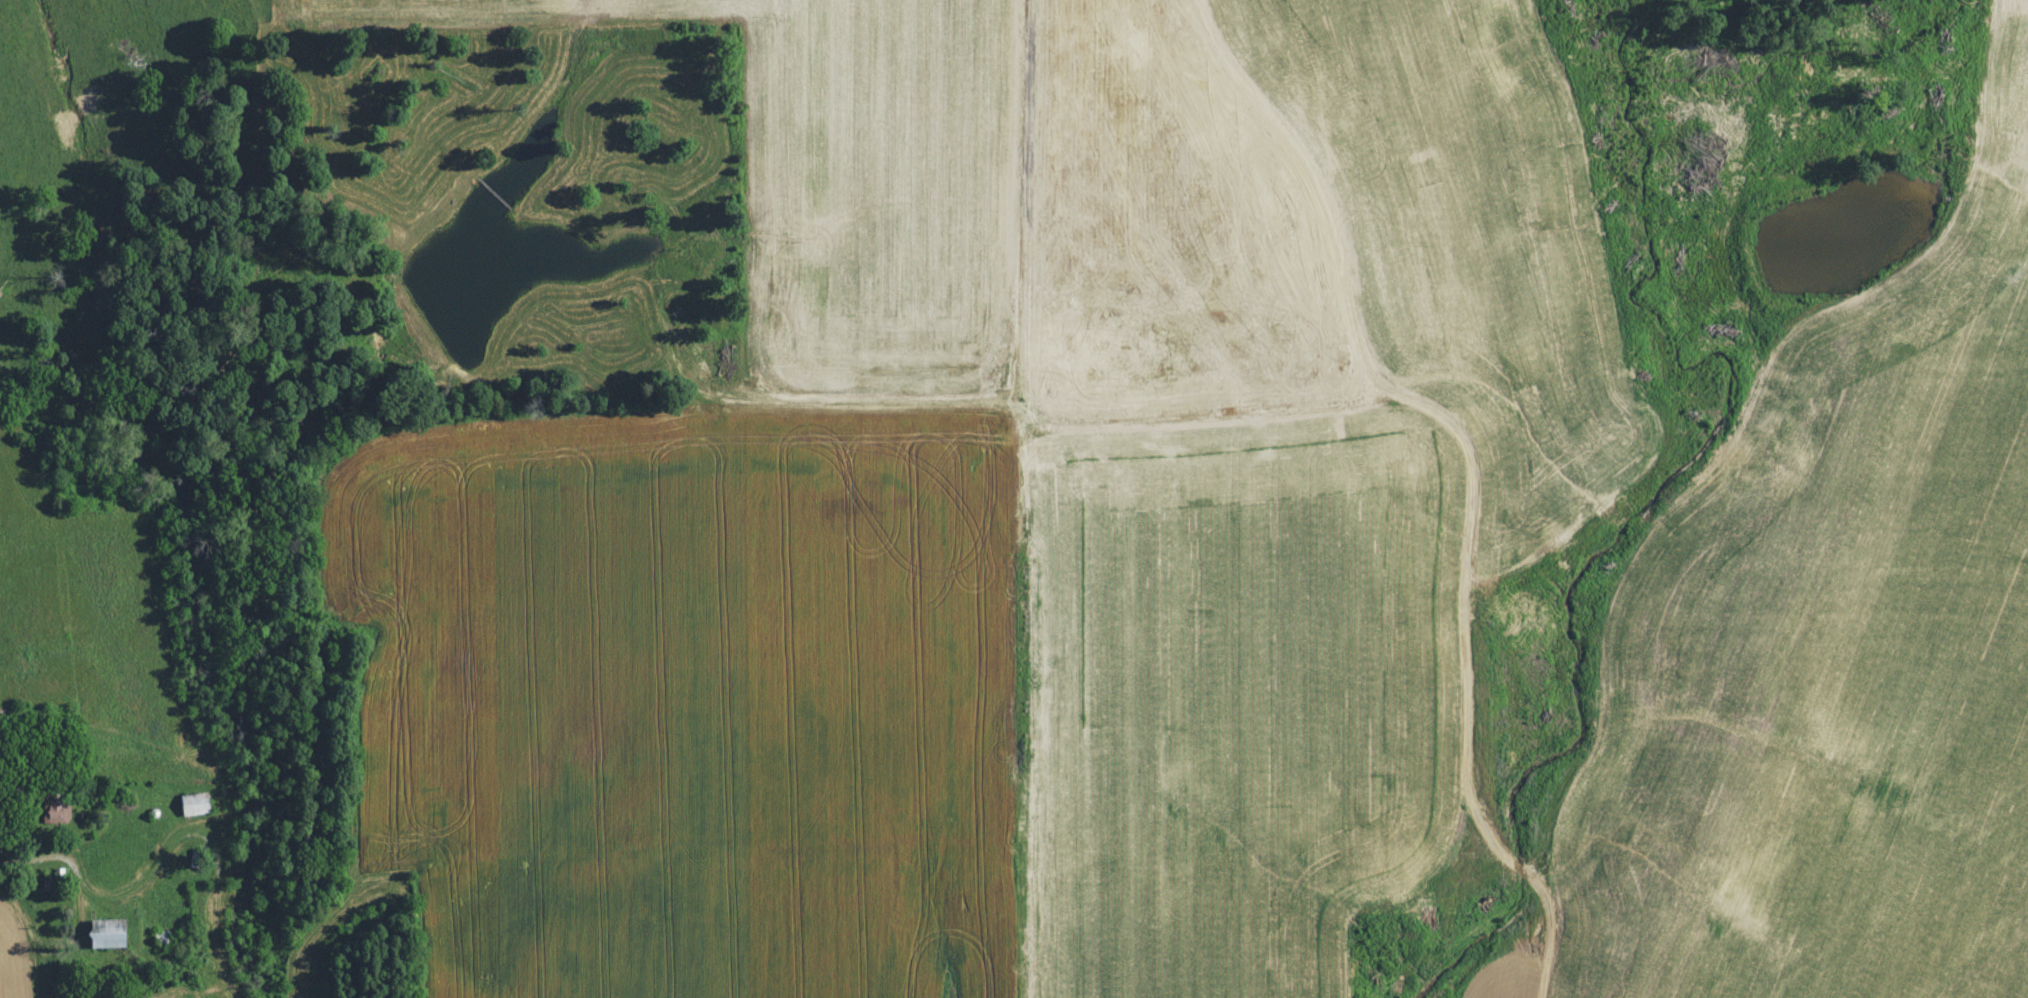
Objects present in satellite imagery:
building: (195, 801)
building: (57, 810)
road: (118, 892)
building: (109, 930)

